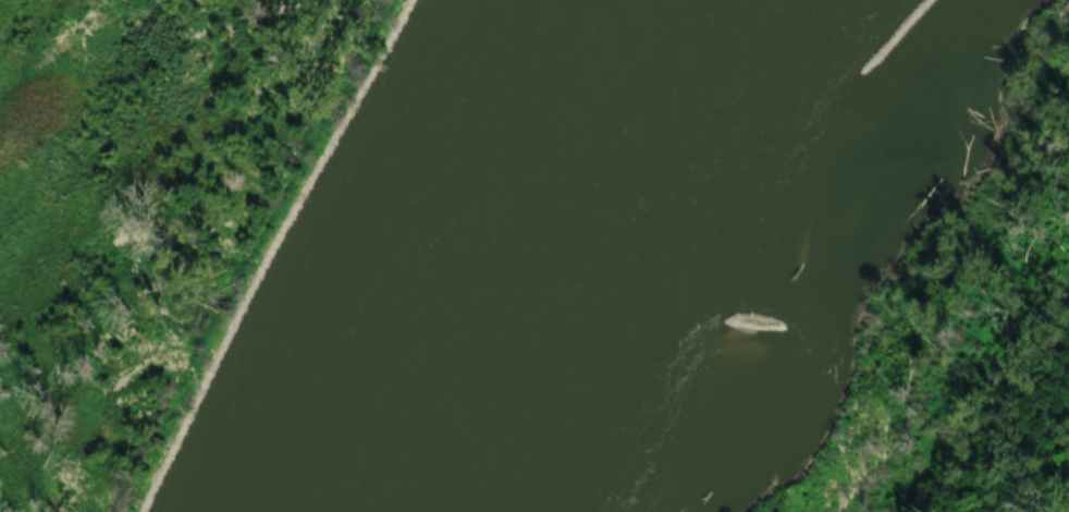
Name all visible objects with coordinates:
river: (630, 256)

